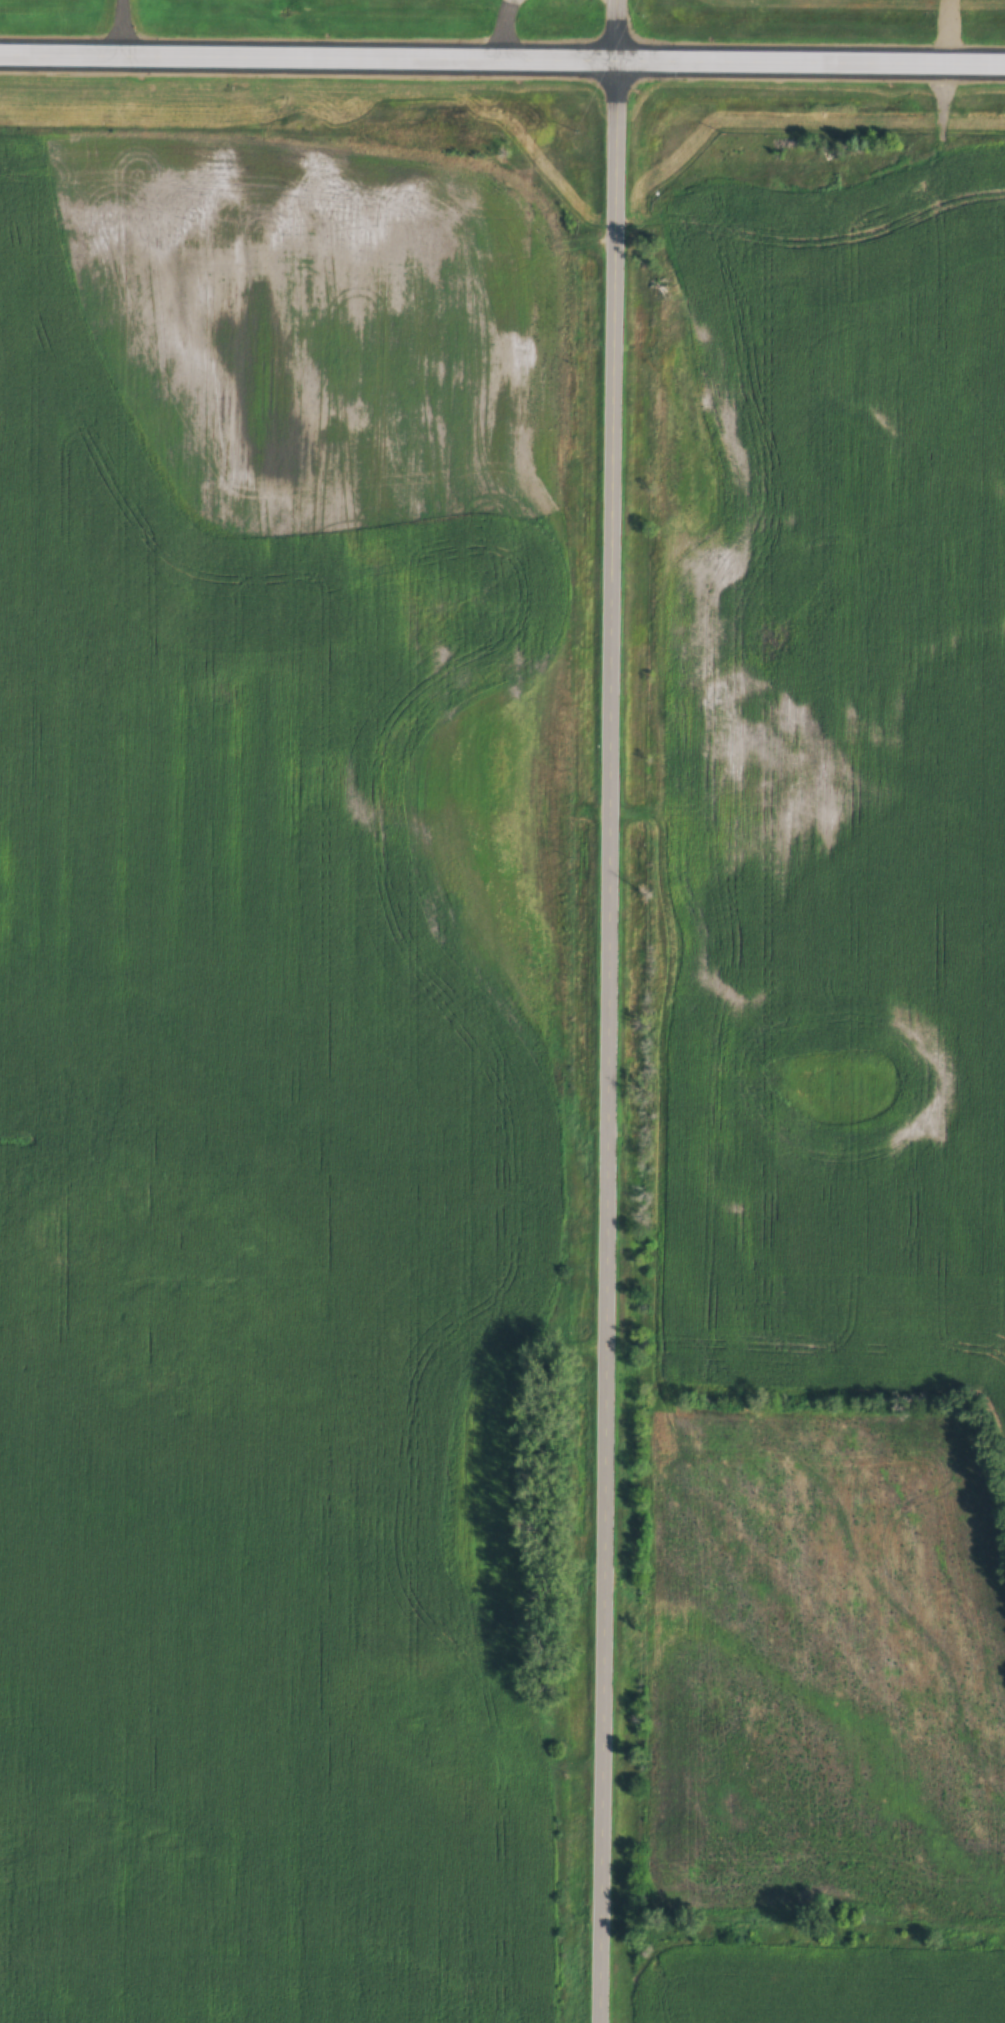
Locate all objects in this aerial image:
road: (122, 24)
road: (502, 53)
road: (607, 1011)

